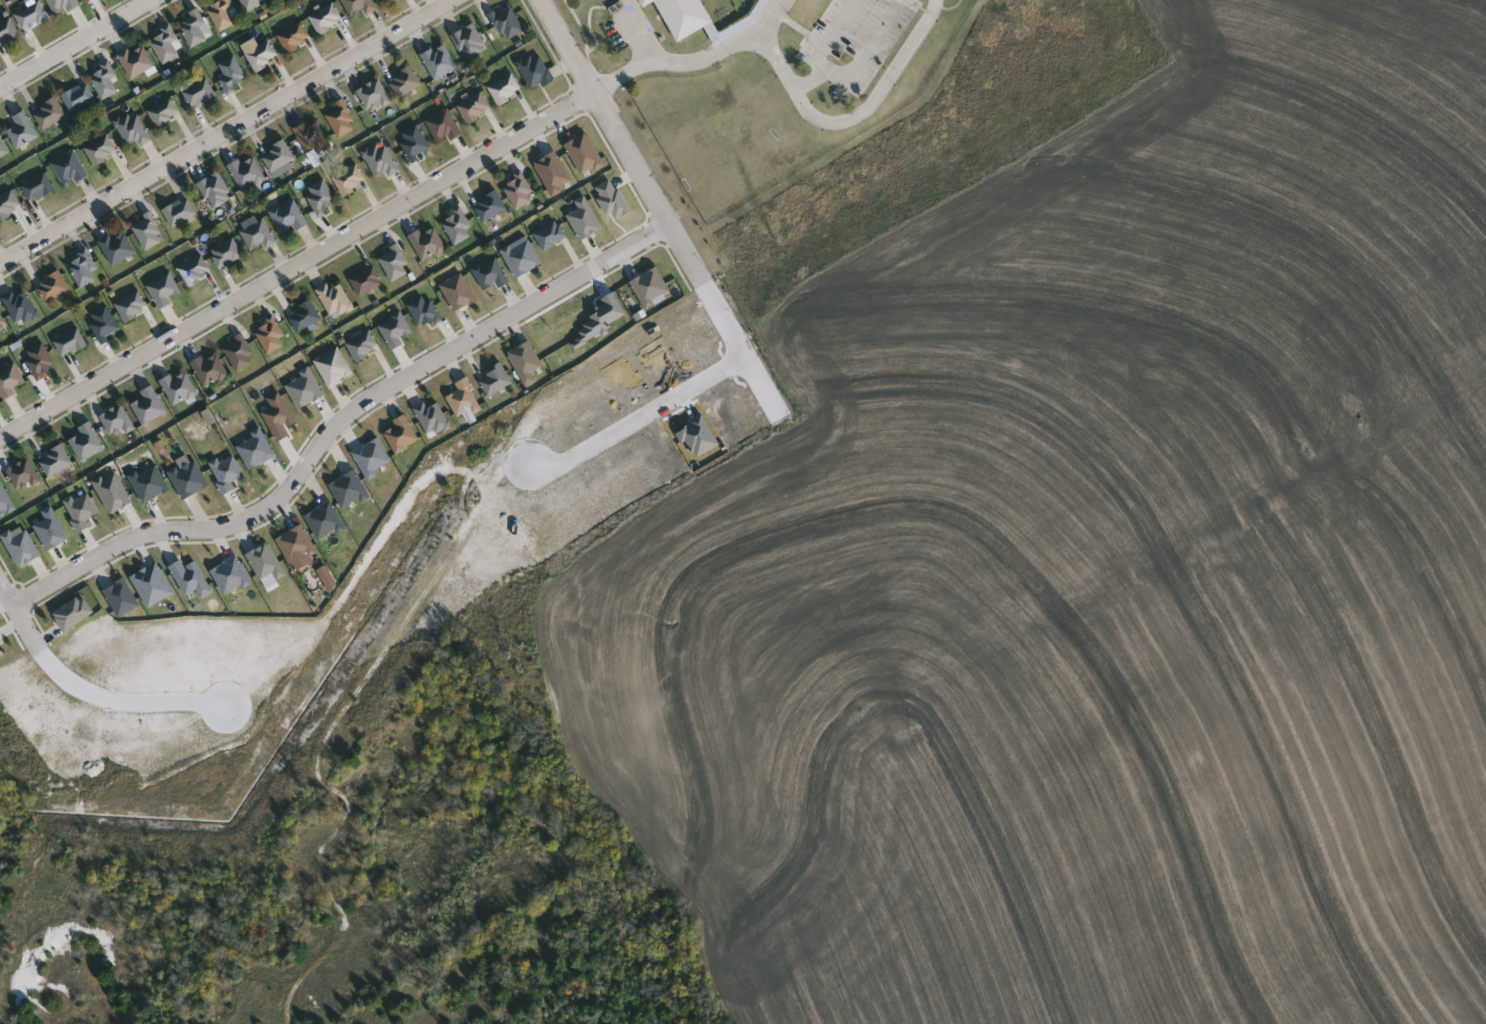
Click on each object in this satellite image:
building: (88, 0)
building: (387, 1)
building: (252, 4)
building: (62, 6)
building: (358, 7)
building: (223, 14)
building: (32, 16)
building: (685, 16)
building: (327, 20)
road: (772, 20)
building: (506, 24)
building: (195, 28)
building: (7, 31)
road: (832, 33)
building: (294, 37)
parking lot: (857, 41)
building: (470, 42)
road: (75, 43)
building: (167, 44)
road: (868, 47)
building: (262, 56)
road: (704, 59)
building: (136, 61)
building: (439, 61)
building: (535, 71)
building: (232, 75)
road: (811, 79)
building: (105, 81)
building: (405, 83)
building: (506, 90)
road: (878, 92)
building: (199, 94)
building: (374, 97)
building: (79, 98)
building: (475, 109)
building: (164, 112)
building: (50, 114)
building: (341, 119)
building: (443, 127)
building: (133, 130)
road: (226, 130)
building: (23, 131)
building: (312, 137)
road: (620, 140)
building: (414, 143)
building: (3, 148)
building: (101, 150)
building: (278, 156)
building: (382, 160)
building: (70, 170)
building: (247, 172)
building: (350, 180)
building: (38, 188)
building: (216, 191)
building: (520, 193)
building: (322, 197)
building: (9, 206)
building: (490, 207)
building: (179, 212)
building: (289, 217)
building: (458, 228)
building: (148, 232)
building: (257, 234)
building: (551, 236)
building: (428, 243)
building: (118, 248)
building: (227, 254)
building: (395, 264)
road: (297, 265)
building: (84, 269)
building: (195, 271)
building: (491, 275)
building: (367, 281)
building: (53, 288)
building: (164, 290)
building: (335, 299)
building: (20, 307)
building: (133, 307)
building: (424, 311)
building: (305, 317)
building: (105, 324)
building: (3, 325)
building: (395, 330)
building: (271, 337)
building: (71, 344)
building: (363, 346)
road: (743, 346)
building: (240, 354)
building: (40, 361)
building: (333, 367)
building: (211, 370)
building: (495, 380)
building: (12, 381)
building: (180, 388)
building: (150, 407)
building: (433, 418)
road: (642, 419)
building: (118, 421)
road: (338, 423)
building: (402, 435)
building: (88, 442)
building: (57, 461)
building: (24, 476)
building: (5, 501)
road: (20, 612)
road: (130, 700)

